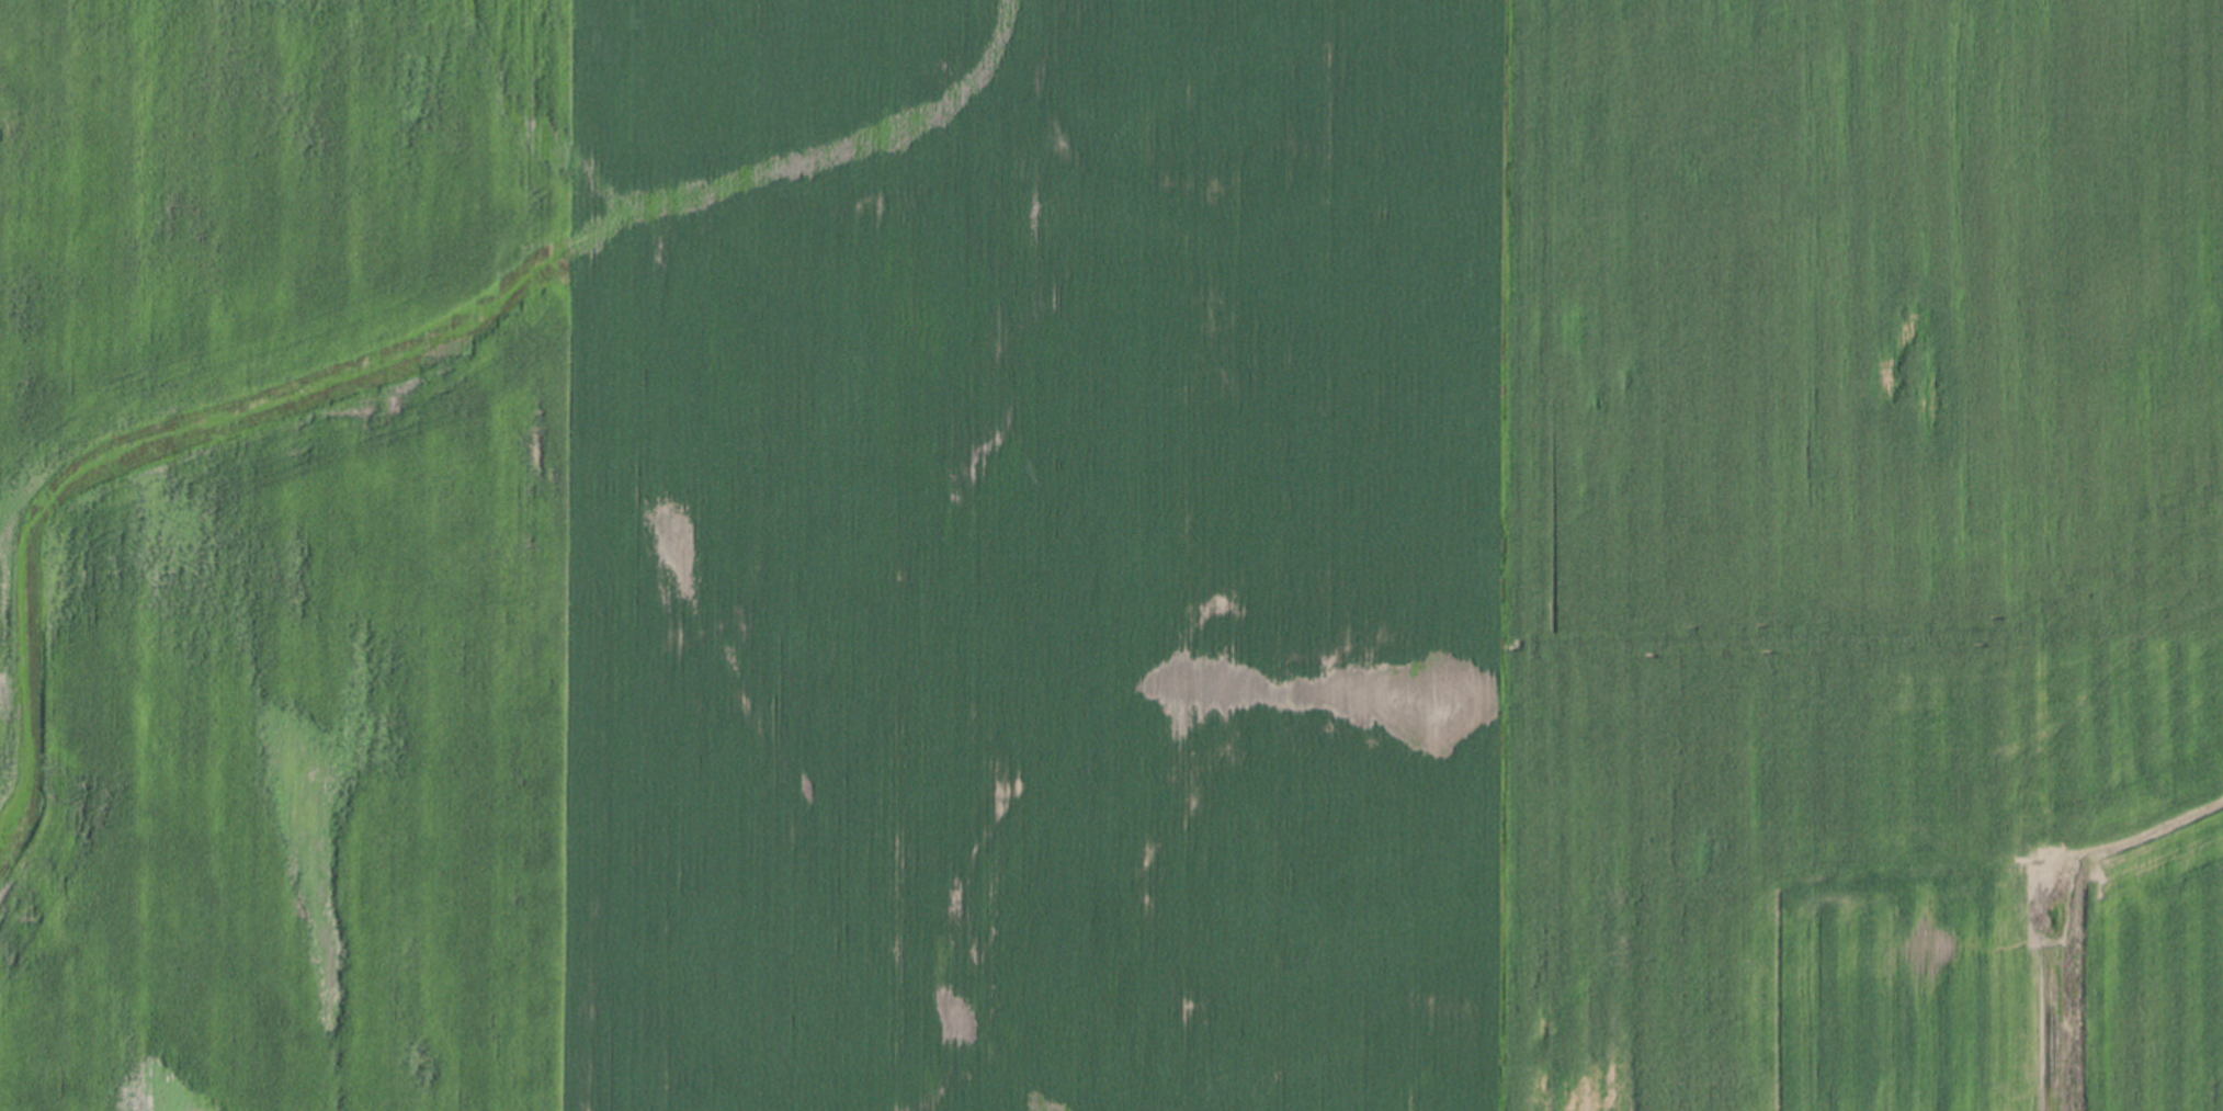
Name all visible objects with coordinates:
crop: (1111, 555)

